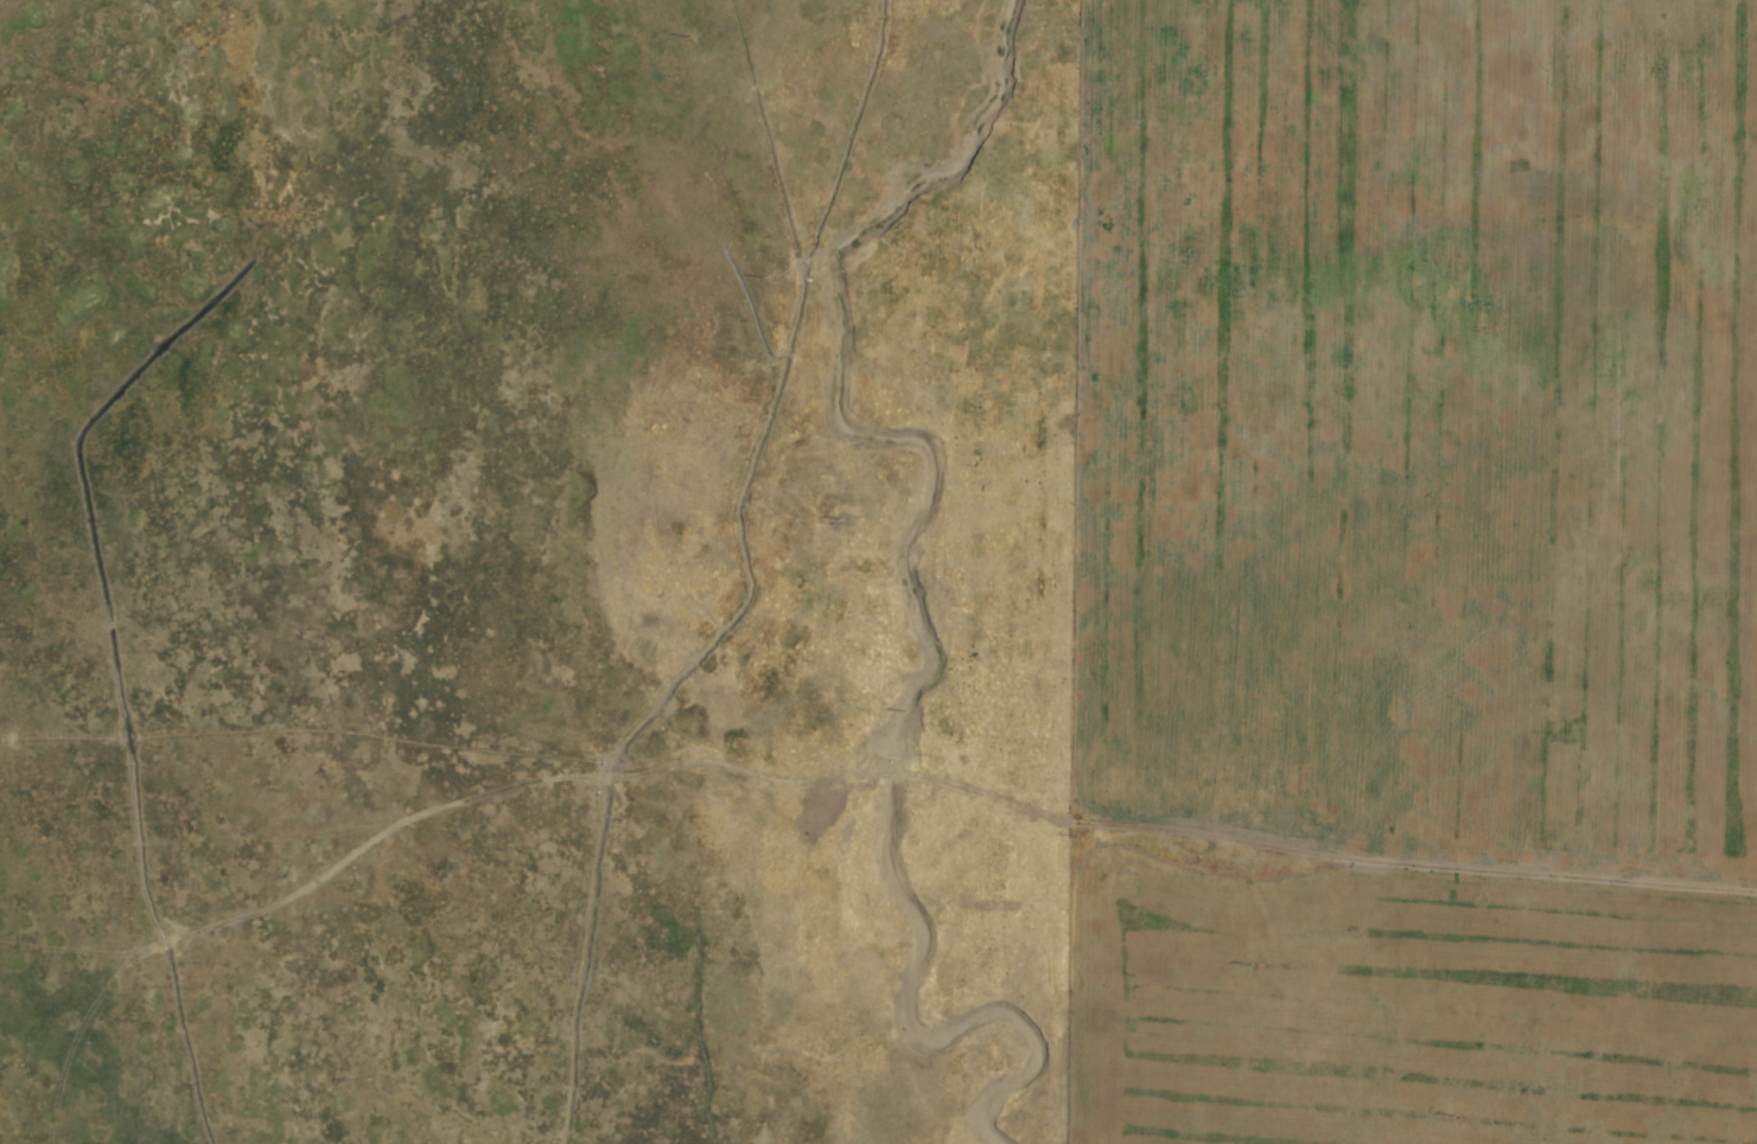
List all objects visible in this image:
crop: (878, 571)

